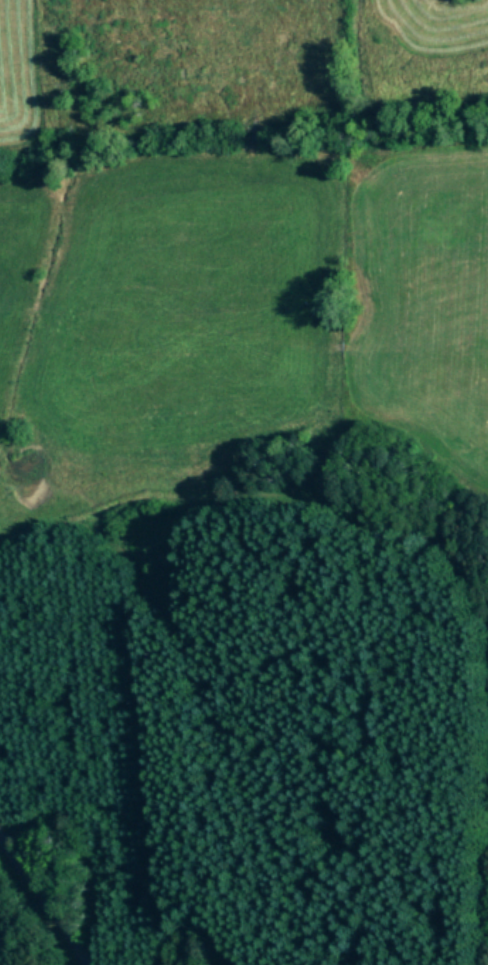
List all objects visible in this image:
road: (40, 904)

